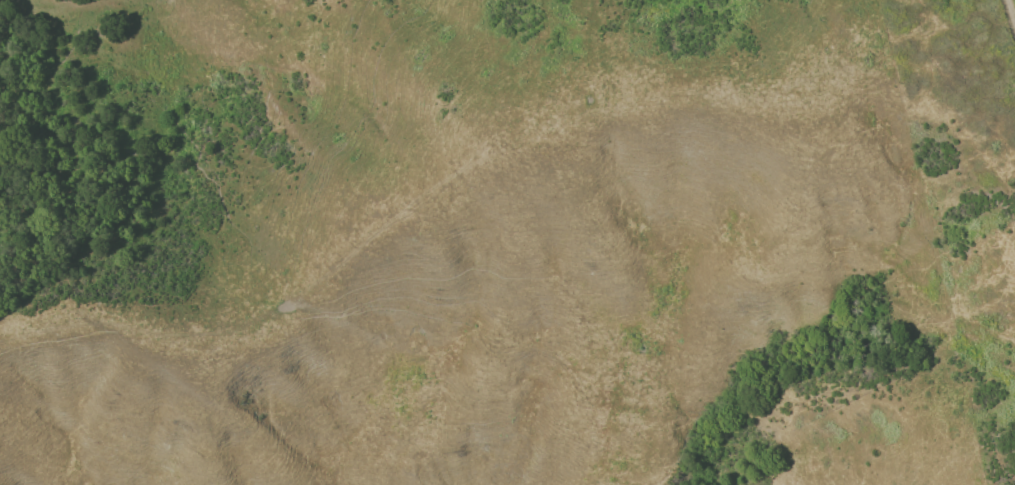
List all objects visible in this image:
road: (1009, 13)

